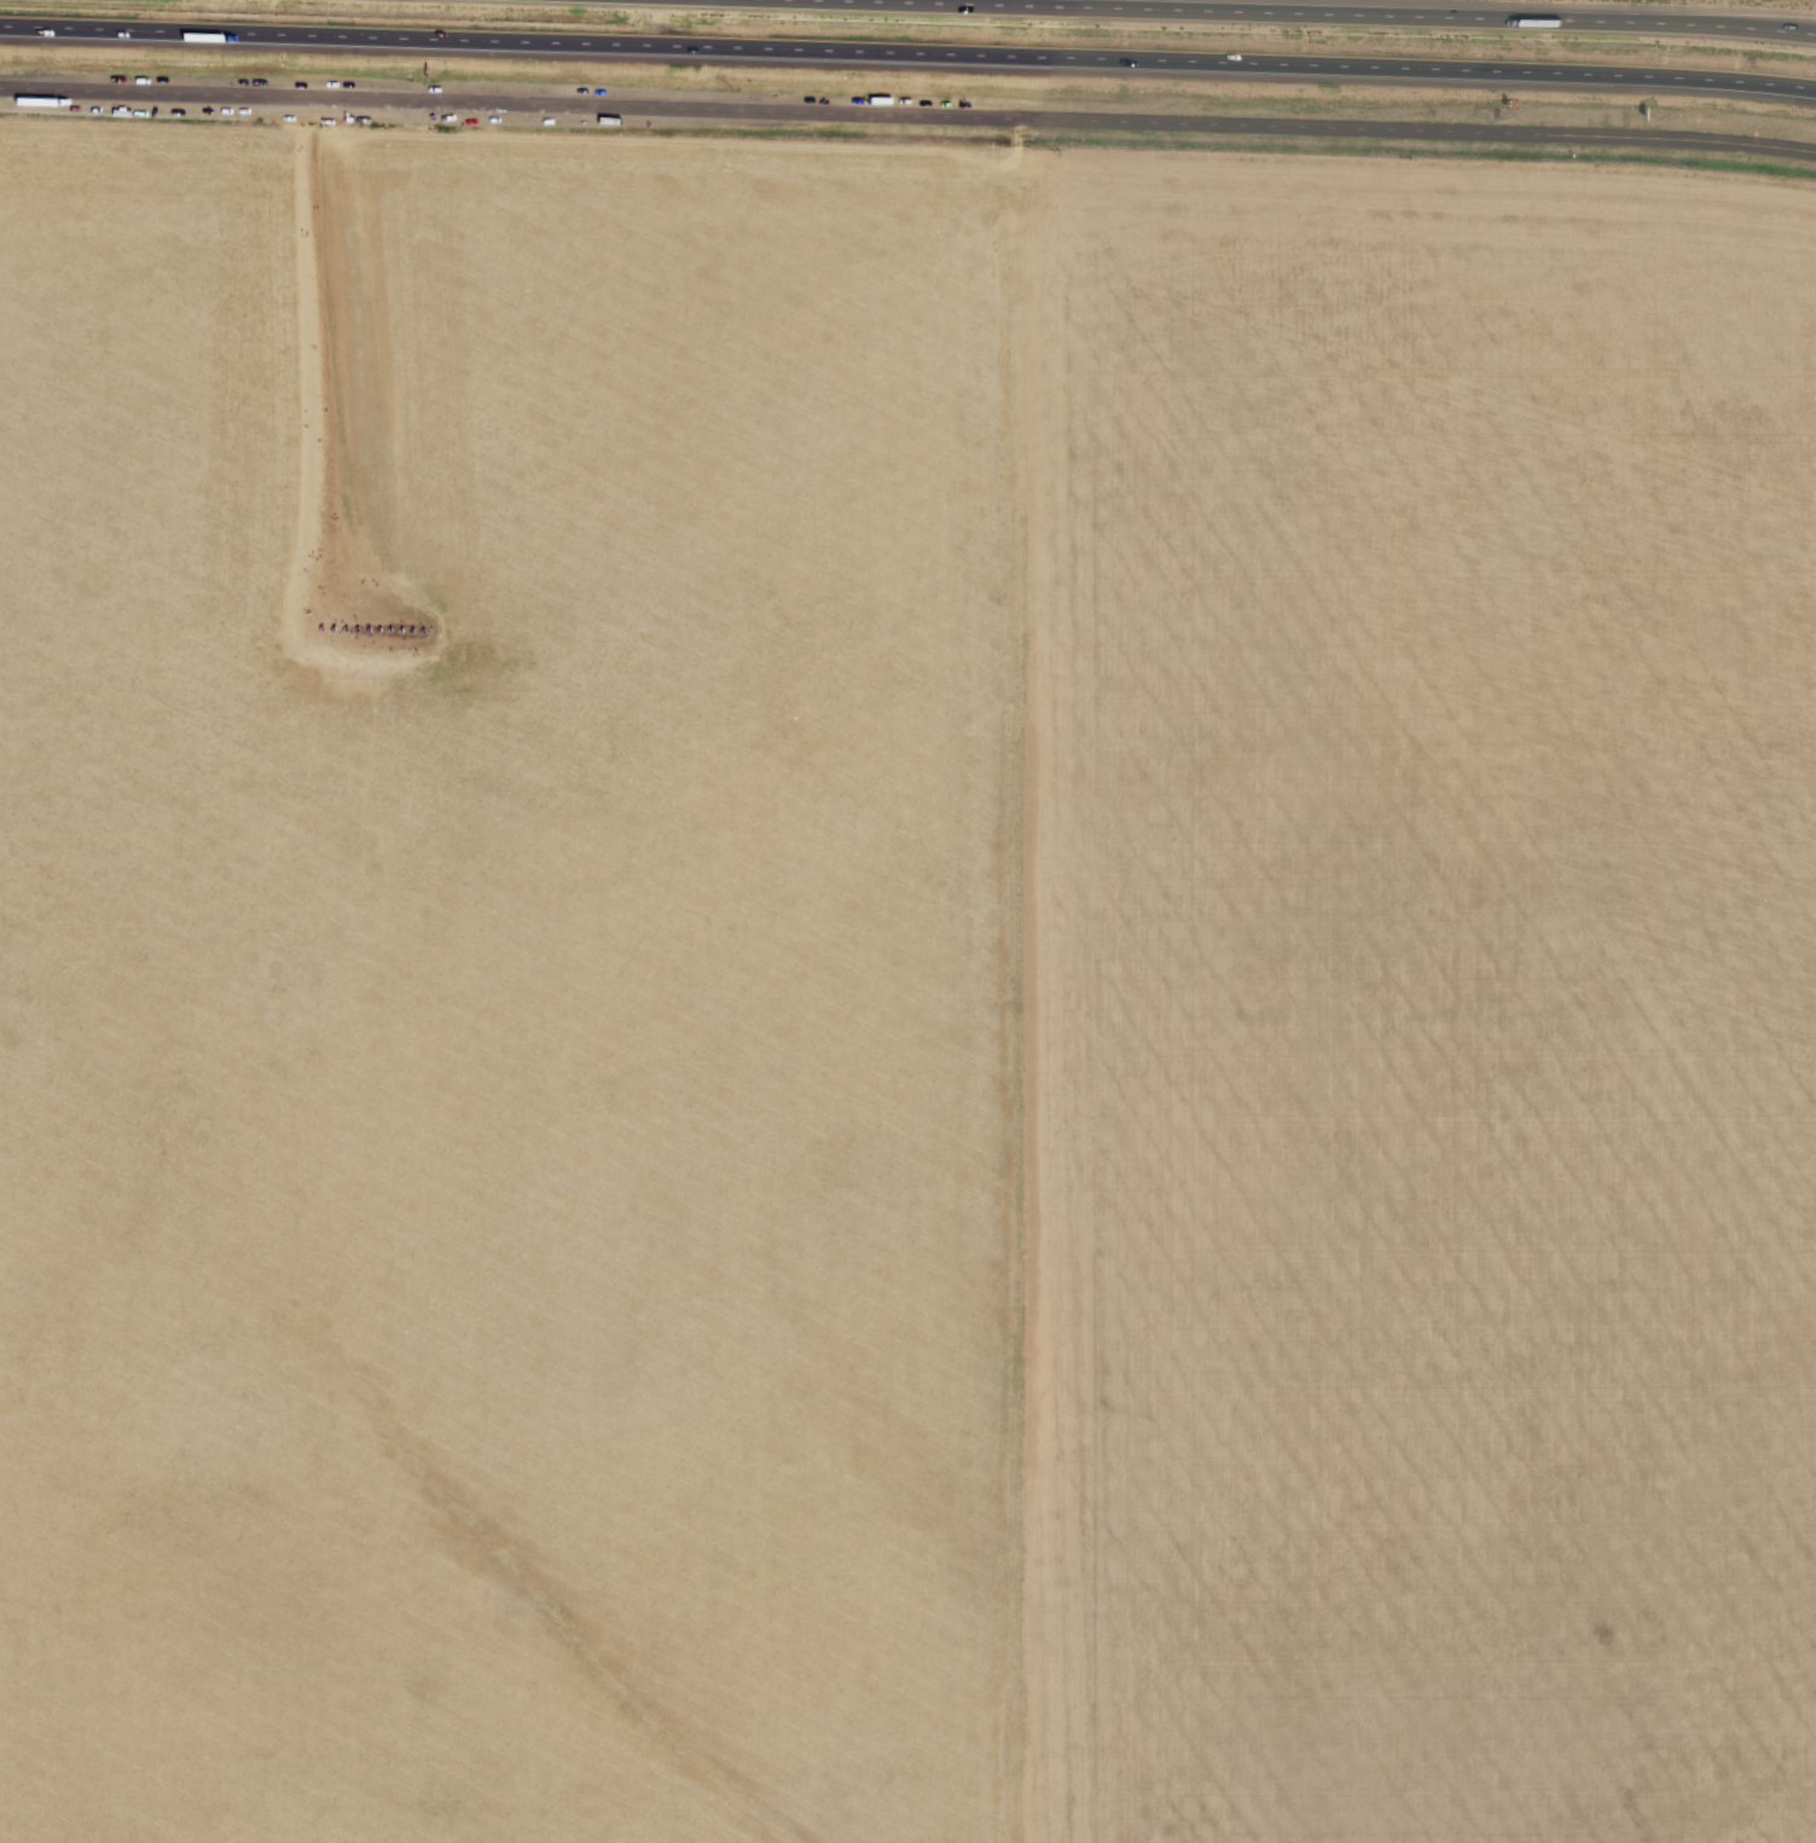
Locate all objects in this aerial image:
road: (1293, 15)
road: (907, 57)
road: (907, 116)
parking lot: (290, 121)
road: (356, 340)
park: (356, 474)

